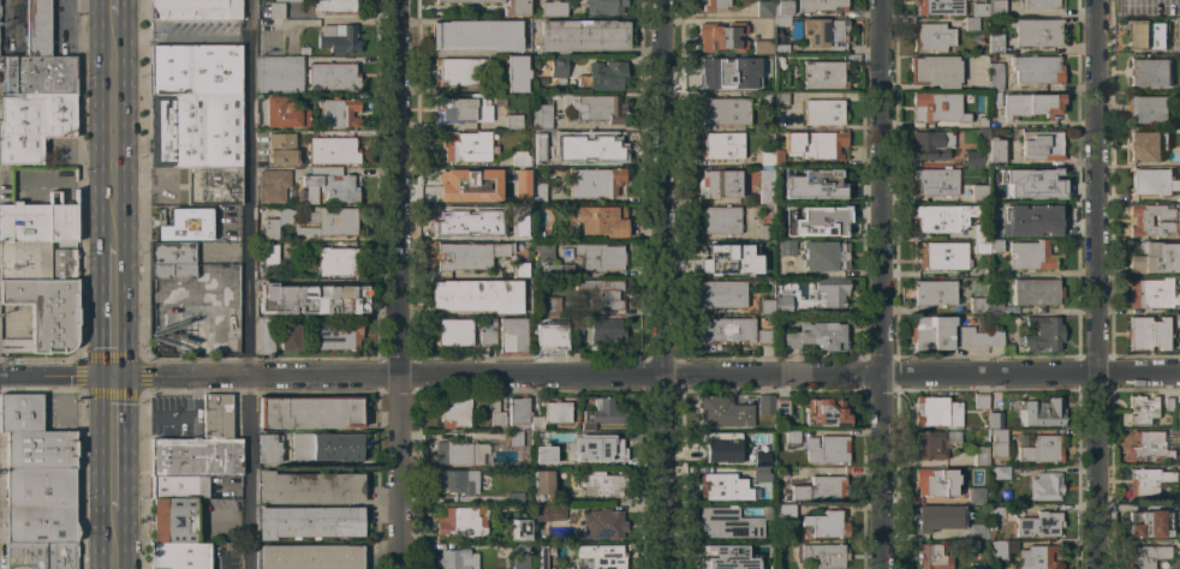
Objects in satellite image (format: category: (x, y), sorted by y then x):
building: (282, 0)
building: (467, 1)
building: (714, 4)
building: (1041, 4)
building: (820, 5)
building: (335, 6)
building: (603, 6)
building: (515, 7)
building: (554, 7)
building: (781, 7)
building: (938, 7)
building: (193, 8)
building: (764, 8)
building: (996, 8)
building: (275, 10)
building: (979, 10)
road: (114, 12)
road: (322, 20)
building: (781, 22)
building: (971, 24)
building: (36, 28)
building: (1174, 28)
building: (823, 32)
building: (1037, 32)
building: (1179, 34)
building: (476, 35)
building: (582, 35)
building: (1149, 35)
building: (721, 37)
building: (931, 37)
road: (180, 38)
building: (338, 38)
building: (995, 41)
building: (762, 47)
building: (781, 49)
building: (764, 61)
building: (781, 65)
building: (556, 66)
building: (195, 68)
building: (1036, 70)
building: (934, 71)
building: (461, 72)
building: (1149, 72)
building: (279, 73)
building: (517, 73)
building: (38, 74)
building: (721, 74)
building: (823, 74)
building: (606, 76)
building: (333, 77)
building: (995, 77)
building: (542, 80)
building: (765, 98)
building: (780, 98)
building: (994, 100)
building: (1031, 104)
building: (594, 108)
building: (937, 108)
building: (1148, 108)
building: (465, 109)
building: (723, 112)
building: (823, 112)
building: (284, 113)
building: (338, 113)
building: (541, 116)
building: (511, 121)
building: (981, 121)
building: (34, 125)
building: (195, 131)
road: (114, 132)
building: (815, 144)
building: (602, 145)
building: (722, 145)
building: (931, 145)
building: (1042, 145)
building: (1146, 145)
building: (466, 146)
building: (281, 149)
building: (995, 150)
building: (333, 151)
building: (519, 158)
building: (765, 158)
building: (776, 158)
building: (972, 158)
building: (543, 160)
building: (511, 176)
building: (826, 180)
building: (935, 181)
building: (1039, 181)
building: (1154, 181)
building: (594, 182)
building: (459, 184)
building: (719, 184)
building: (272, 185)
building: (327, 185)
building: (213, 186)
building: (770, 186)
road: (880, 186)
road: (394, 187)
road: (663, 188)
building: (994, 190)
building: (978, 192)
building: (537, 193)
building: (517, 196)
building: (781, 210)
building: (1035, 216)
building: (942, 217)
building: (720, 220)
building: (332, 221)
building: (463, 221)
building: (600, 221)
building: (824, 221)
building: (1142, 221)
building: (37, 223)
building: (186, 224)
building: (270, 228)
building: (995, 228)
building: (765, 232)
building: (982, 232)
building: (520, 234)
building: (526, 244)
building: (982, 246)
building: (995, 246)
building: (786, 248)
building: (546, 253)
building: (270, 254)
building: (469, 256)
building: (824, 256)
building: (941, 256)
building: (1030, 256)
building: (186, 257)
building: (600, 257)
building: (717, 257)
building: (763, 259)
building: (1155, 259)
building: (24, 260)
building: (334, 260)
building: (62, 264)
building: (520, 270)
building: (553, 271)
road: (1097, 283)
road: (246, 284)
building: (829, 292)
building: (1036, 292)
building: (601, 293)
building: (934, 293)
building: (721, 294)
building: (1151, 294)
building: (477, 295)
building: (310, 299)
building: (782, 304)
building: (552, 305)
building: (977, 305)
building: (764, 306)
building: (995, 306)
road: (114, 310)
building: (44, 312)
building: (1176, 321)
building: (574, 327)
building: (726, 330)
building: (487, 331)
building: (606, 331)
building: (453, 333)
building: (555, 333)
building: (931, 333)
building: (1042, 333)
building: (1146, 334)
building: (333, 335)
building: (264, 336)
building: (512, 336)
building: (817, 336)
building: (978, 336)
building: (288, 337)
building: (536, 337)
building: (764, 337)
building: (11, 346)
road: (590, 376)
traffic signals: (115, 378)
building: (981, 402)
building: (1168, 403)
building: (765, 405)
building: (781, 406)
building: (1142, 409)
building: (1179, 409)
building: (518, 411)
building: (310, 412)
building: (556, 412)
building: (723, 412)
building: (936, 412)
building: (1037, 412)
building: (20, 413)
building: (454, 413)
building: (601, 413)
building: (826, 413)
building: (495, 414)
building: (995, 420)
building: (536, 423)
building: (494, 432)
building: (791, 438)
building: (512, 439)
building: (934, 443)
building: (999, 444)
building: (201, 445)
building: (1149, 445)
building: (1179, 445)
road: (114, 447)
building: (324, 447)
building: (717, 447)
building: (268, 448)
building: (598, 448)
building: (826, 449)
building: (1038, 449)
building: (40, 450)
building: (459, 453)
building: (541, 454)
building: (979, 456)
building: (759, 457)
road: (881, 471)
road: (397, 472)
road: (662, 473)
building: (759, 473)
building: (1001, 473)
building: (1179, 478)
building: (457, 481)
building: (1148, 481)
building: (600, 483)
building: (935, 483)
building: (180, 486)
building: (542, 486)
building: (719, 486)
building: (1045, 486)
building: (308, 487)
building: (822, 489)
building: (978, 495)
building: (513, 498)
building: (38, 505)
building: (783, 510)
building: (549, 513)
building: (938, 517)
building: (173, 520)
building: (460, 521)
building: (309, 522)
building: (603, 523)
building: (727, 523)
building: (1149, 523)
building: (827, 525)
building: (1038, 525)
building: (519, 531)
building: (975, 532)
building: (985, 533)
road: (114, 541)
building: (985, 545)
building: (996, 550)
building: (41, 556)
building: (179, 556)
building: (520, 556)
building: (601, 556)
building: (823, 556)
building: (1148, 556)
building: (310, 557)
building: (728, 557)
building: (932, 557)
building: (1037, 557)
building: (455, 559)
building: (976, 565)

